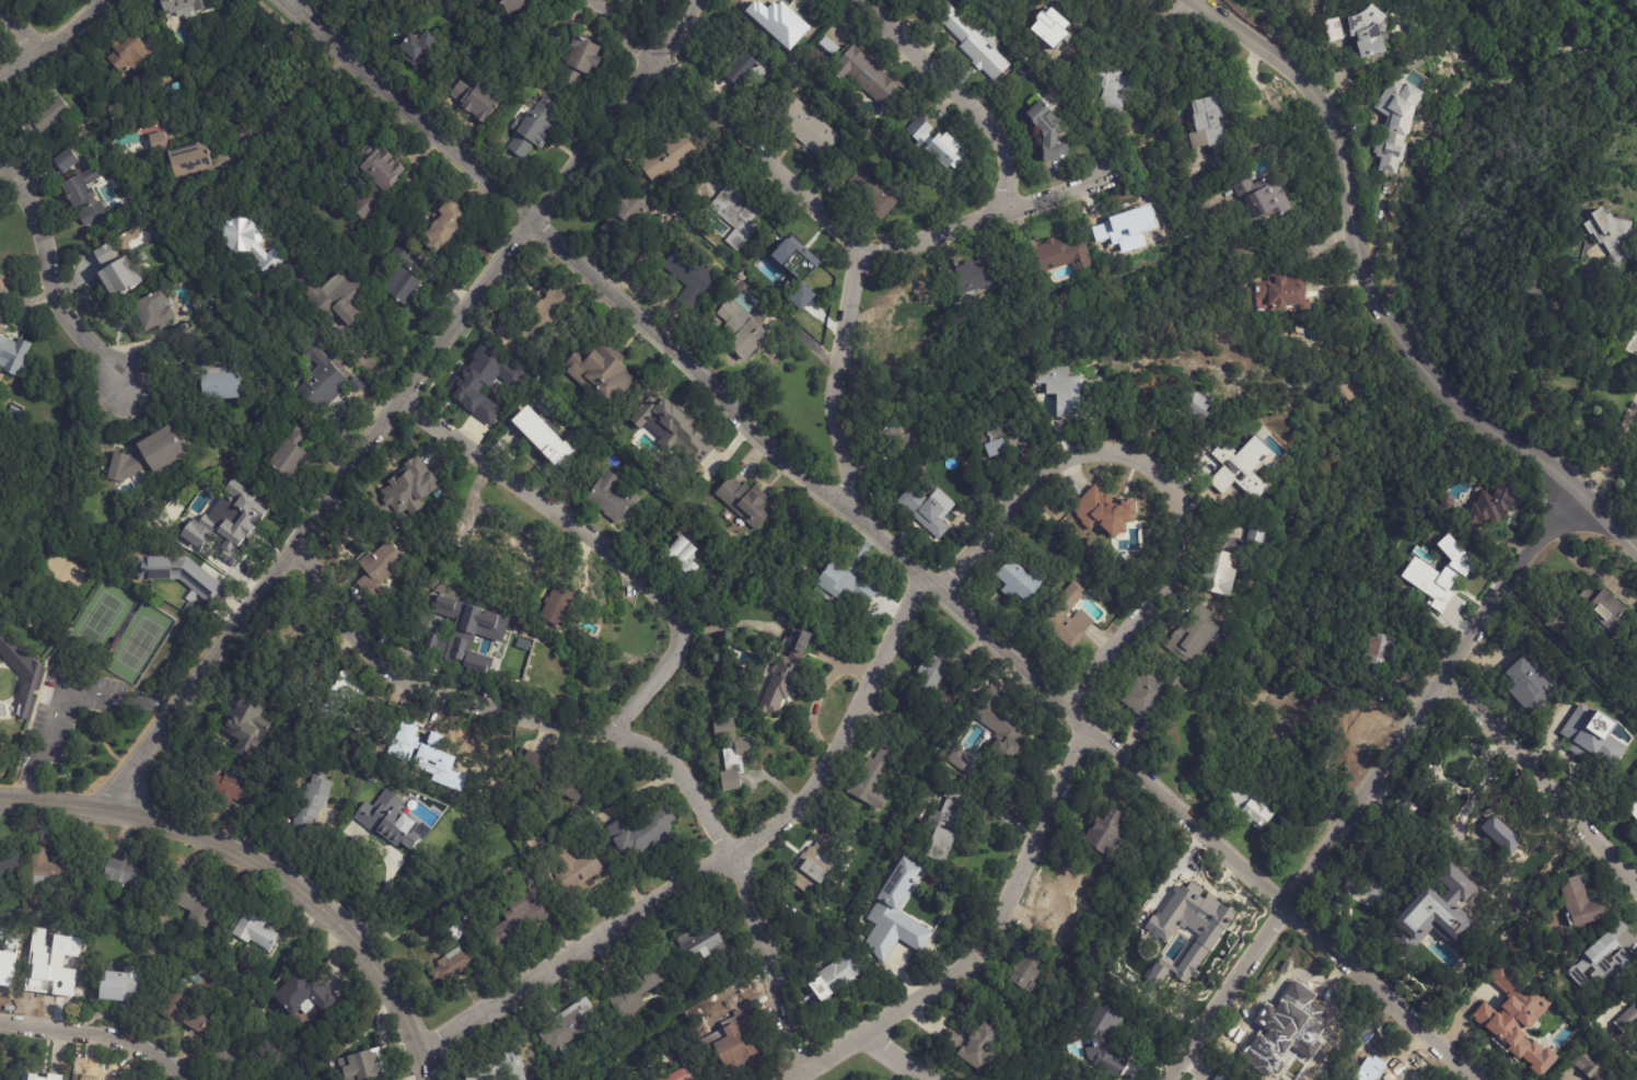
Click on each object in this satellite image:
road: (292, 4)
building: (515, 4)
building: (183, 7)
building: (1407, 8)
road: (20, 26)
building: (779, 26)
road: (625, 31)
building: (1336, 33)
building: (1370, 34)
road: (51, 37)
building: (1056, 38)
building: (974, 45)
building: (125, 51)
building: (420, 51)
building: (580, 63)
building: (750, 65)
building: (867, 78)
building: (1114, 89)
road: (962, 95)
building: (476, 104)
road: (282, 107)
building: (49, 115)
building: (1208, 124)
building: (1400, 126)
building: (806, 128)
building: (532, 133)
building: (1047, 133)
park: (1563, 135)
building: (937, 147)
road: (762, 153)
building: (181, 154)
building: (667, 159)
building: (66, 160)
building: (376, 179)
building: (437, 179)
building: (879, 195)
building: (83, 196)
building: (1266, 200)
building: (628, 218)
building: (736, 218)
road: (987, 219)
building: (444, 227)
building: (1128, 230)
road: (1351, 235)
building: (1614, 235)
building: (248, 243)
road: (1294, 253)
building: (104, 254)
building: (1059, 258)
building: (798, 260)
road: (47, 275)
building: (402, 275)
building: (690, 277)
building: (974, 277)
building: (121, 278)
building: (1284, 293)
building: (334, 297)
building: (909, 309)
building: (154, 312)
building: (548, 314)
building: (743, 327)
building: (182, 334)
building: (13, 356)
road: (1590, 365)
building: (600, 370)
building: (321, 378)
road: (836, 378)
building: (217, 381)
building: (485, 390)
building: (1066, 399)
road: (399, 404)
building: (1197, 405)
building: (14, 409)
road: (1615, 423)
building: (545, 434)
building: (659, 436)
building: (991, 441)
building: (897, 442)
building: (291, 452)
building: (148, 455)
road: (1159, 475)
building: (1238, 476)
road: (1563, 477)
building: (409, 486)
building: (611, 497)
building: (746, 502)
building: (1493, 508)
building: (1103, 510)
building: (922, 511)
building: (171, 515)
building: (231, 519)
road: (1609, 525)
building: (1257, 535)
road: (881, 536)
road: (1633, 544)
road: (599, 545)
building: (507, 554)
building: (683, 556)
building: (378, 572)
building: (179, 573)
building: (1219, 573)
building: (1451, 578)
building: (1021, 581)
building: (846, 587)
building: (558, 605)
building: (1607, 611)
building: (1068, 617)
park: (100, 618)
building: (1561, 629)
building: (450, 632)
building: (1194, 636)
park: (139, 643)
building: (1379, 657)
park: (82, 670)
building: (1636, 671)
building: (21, 672)
building: (786, 678)
building: (929, 680)
building: (1530, 685)
road: (60, 690)
building: (1151, 694)
building: (344, 706)
building: (247, 724)
building: (1000, 725)
building: (1359, 730)
road: (618, 734)
building: (1592, 735)
building: (413, 748)
building: (732, 753)
building: (959, 758)
building: (549, 779)
building: (873, 779)
building: (1463, 781)
road: (1543, 783)
road: (1374, 787)
building: (231, 788)
building: (1635, 791)
building: (310, 806)
building: (1251, 806)
building: (1634, 809)
building: (393, 824)
building: (945, 829)
building: (650, 832)
building: (1108, 836)
building: (573, 841)
building: (8, 856)
building: (815, 862)
building: (1533, 862)
road: (725, 867)
road: (264, 868)
building: (574, 869)
building: (49, 871)
building: (130, 875)
road: (380, 899)
building: (848, 899)
building: (196, 901)
building: (1582, 905)
building: (1198, 909)
building: (1063, 913)
building: (1439, 916)
building: (896, 918)
building: (518, 922)
building: (1147, 922)
building: (452, 930)
building: (259, 937)
road: (990, 943)
building: (701, 945)
building: (0, 952)
building: (1604, 957)
building: (51, 965)
building: (455, 965)
building: (1029, 973)
building: (8, 975)
building: (1154, 976)
building: (837, 977)
building: (118, 983)
building: (636, 991)
building: (182, 1011)
building: (1518, 1018)
building: (1629, 1018)
building: (569, 1025)
road: (98, 1034)
building: (732, 1043)
building: (1105, 1043)
building: (1297, 1043)
building: (974, 1046)
building: (234, 1053)
road: (894, 1060)
building: (502, 1064)
building: (1372, 1065)
building: (1589, 1065)
building: (359, 1066)
building: (54, 1072)
building: (681, 1076)
building: (40, 1077)
building: (1221, 1077)
building: (90, 1078)
building: (1557, 1078)
building: (660, 1079)
building: (1598, 1079)

